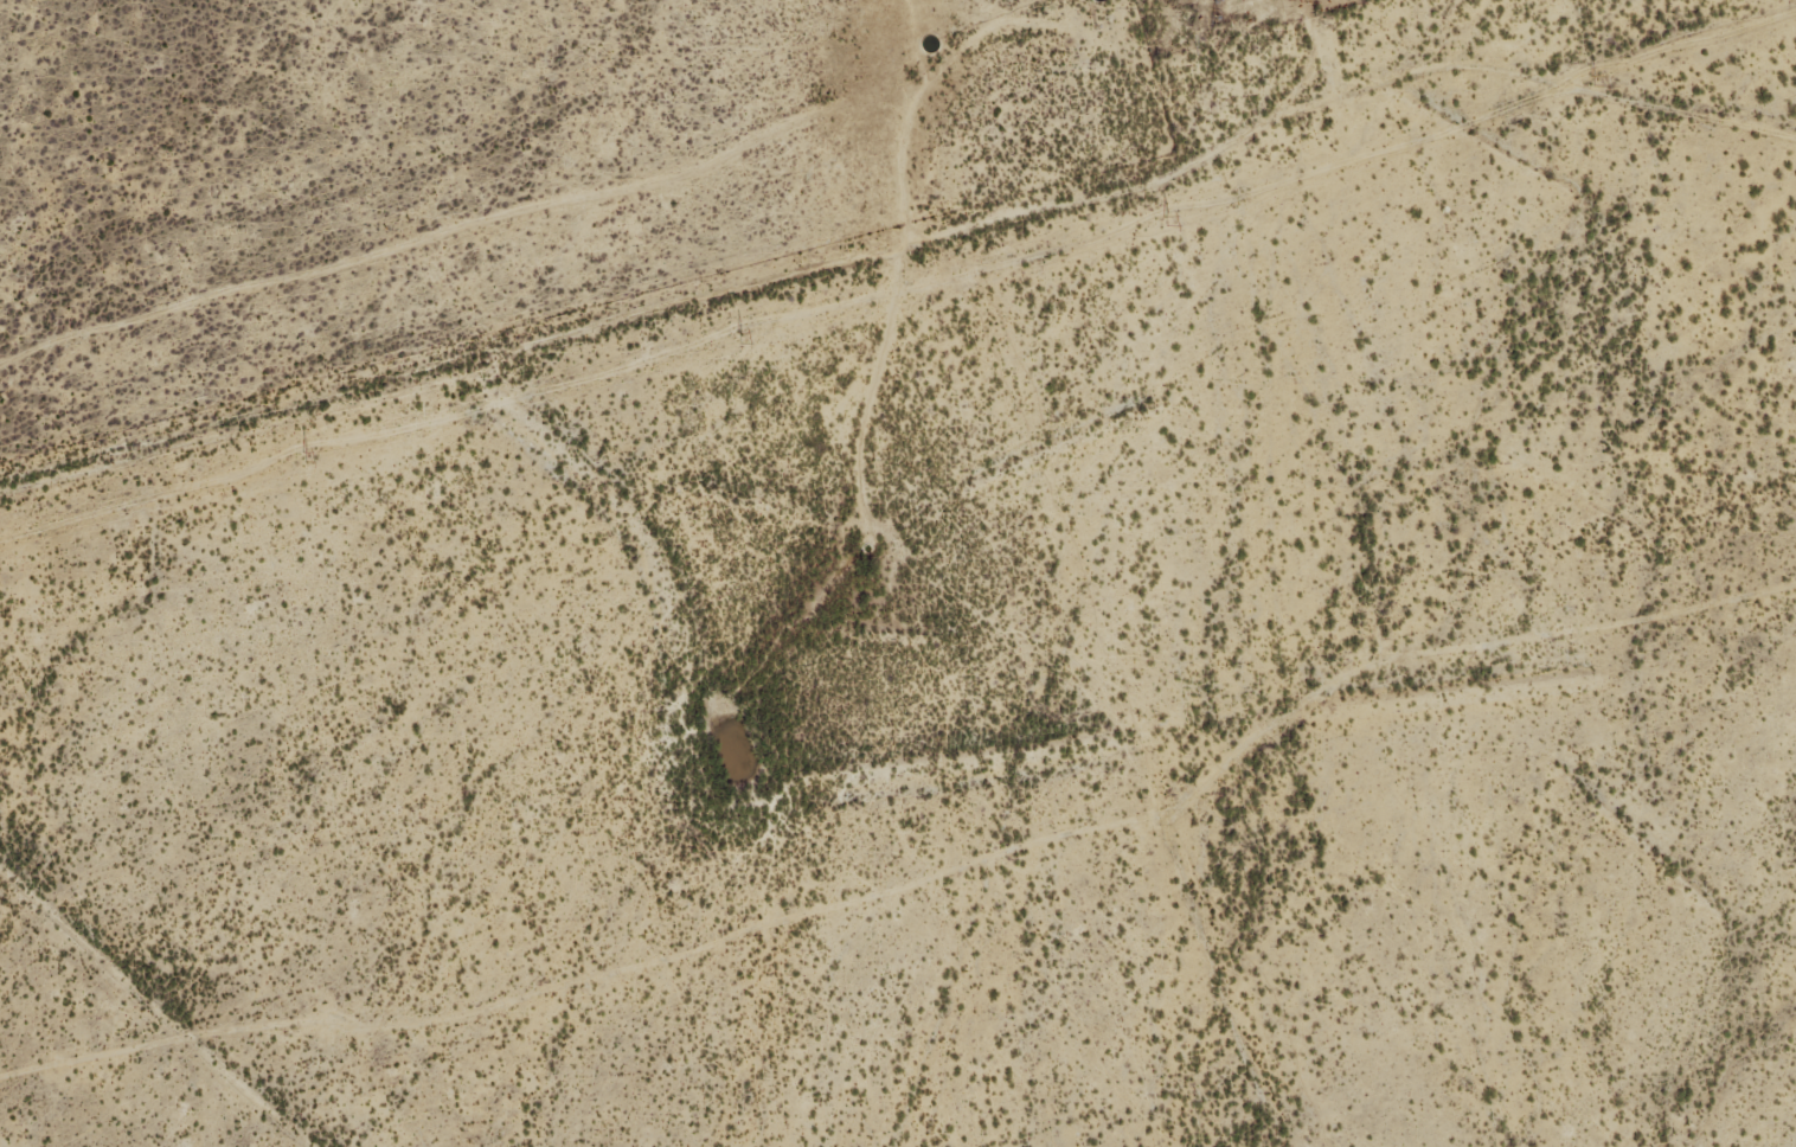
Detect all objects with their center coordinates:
power tower: (1589, 76)
power tower: (1162, 218)
power tower: (738, 337)
power tower: (303, 455)

